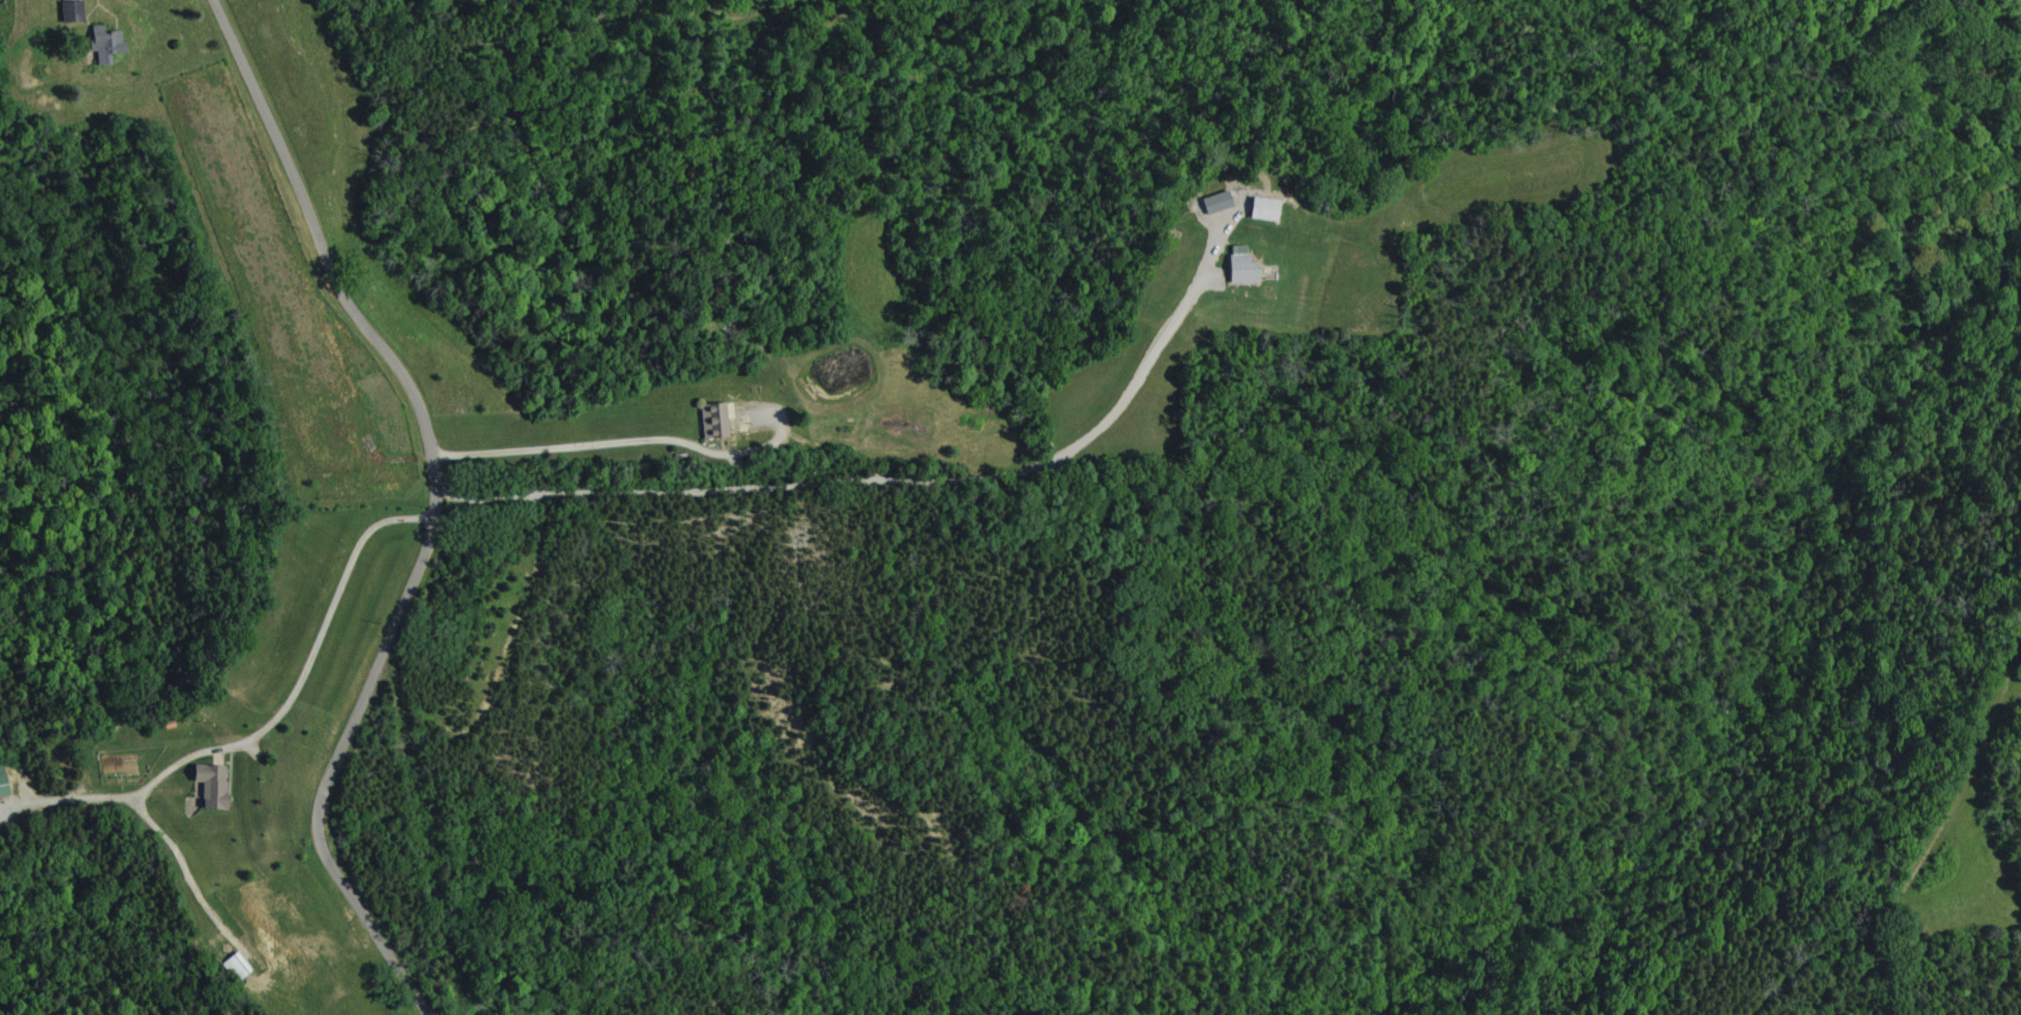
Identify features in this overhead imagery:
building: (73, 10)
building: (109, 44)
building: (1217, 202)
building: (1243, 267)
building: (716, 422)
road: (435, 510)
road: (874, 510)
road: (326, 641)
building: (237, 967)

